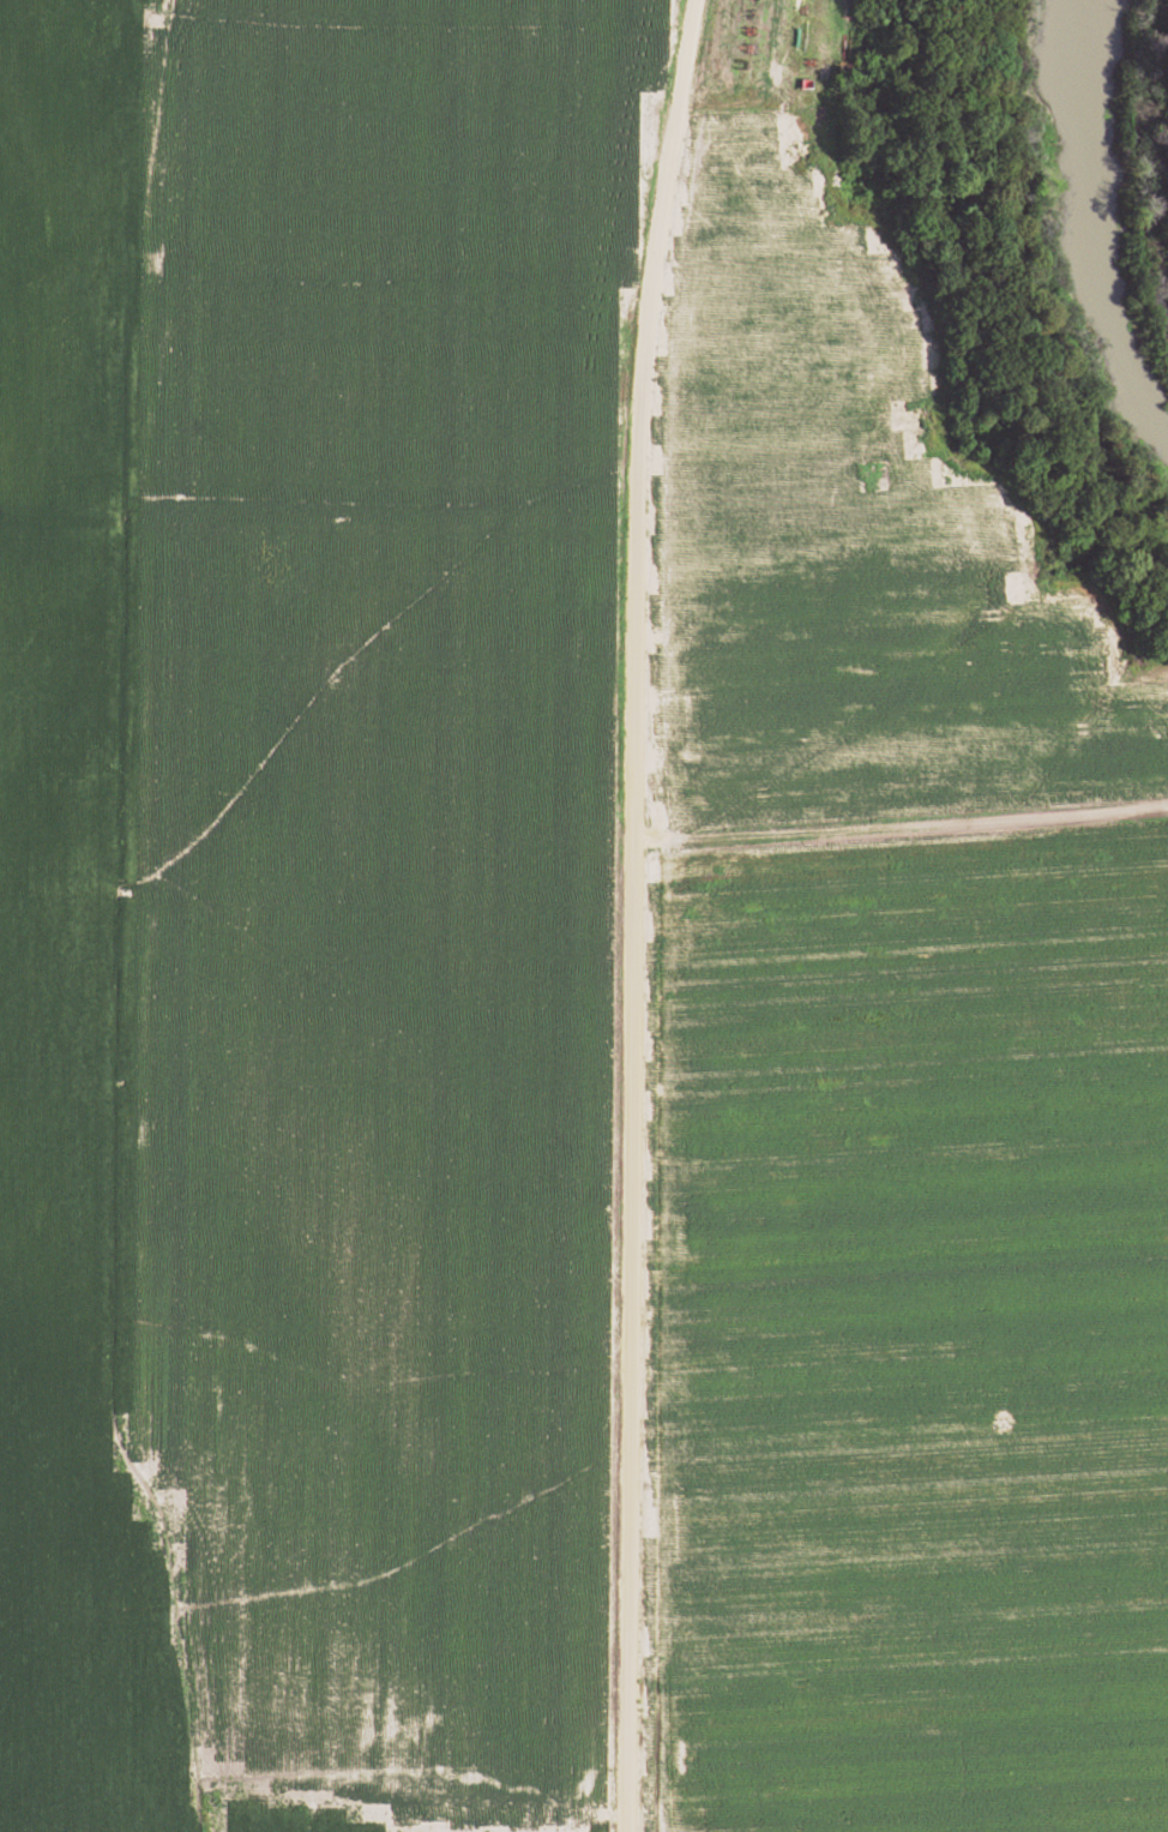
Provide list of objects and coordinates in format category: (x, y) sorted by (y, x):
river: (1102, 234)
road: (632, 416)
road: (897, 825)
road: (622, 1334)
road: (393, 1814)

